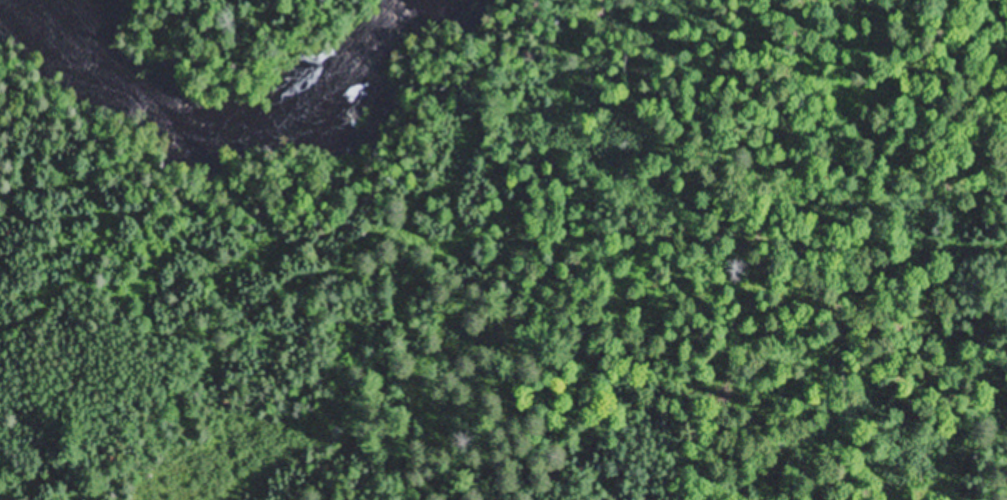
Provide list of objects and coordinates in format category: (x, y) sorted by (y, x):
river: (196, 117)

